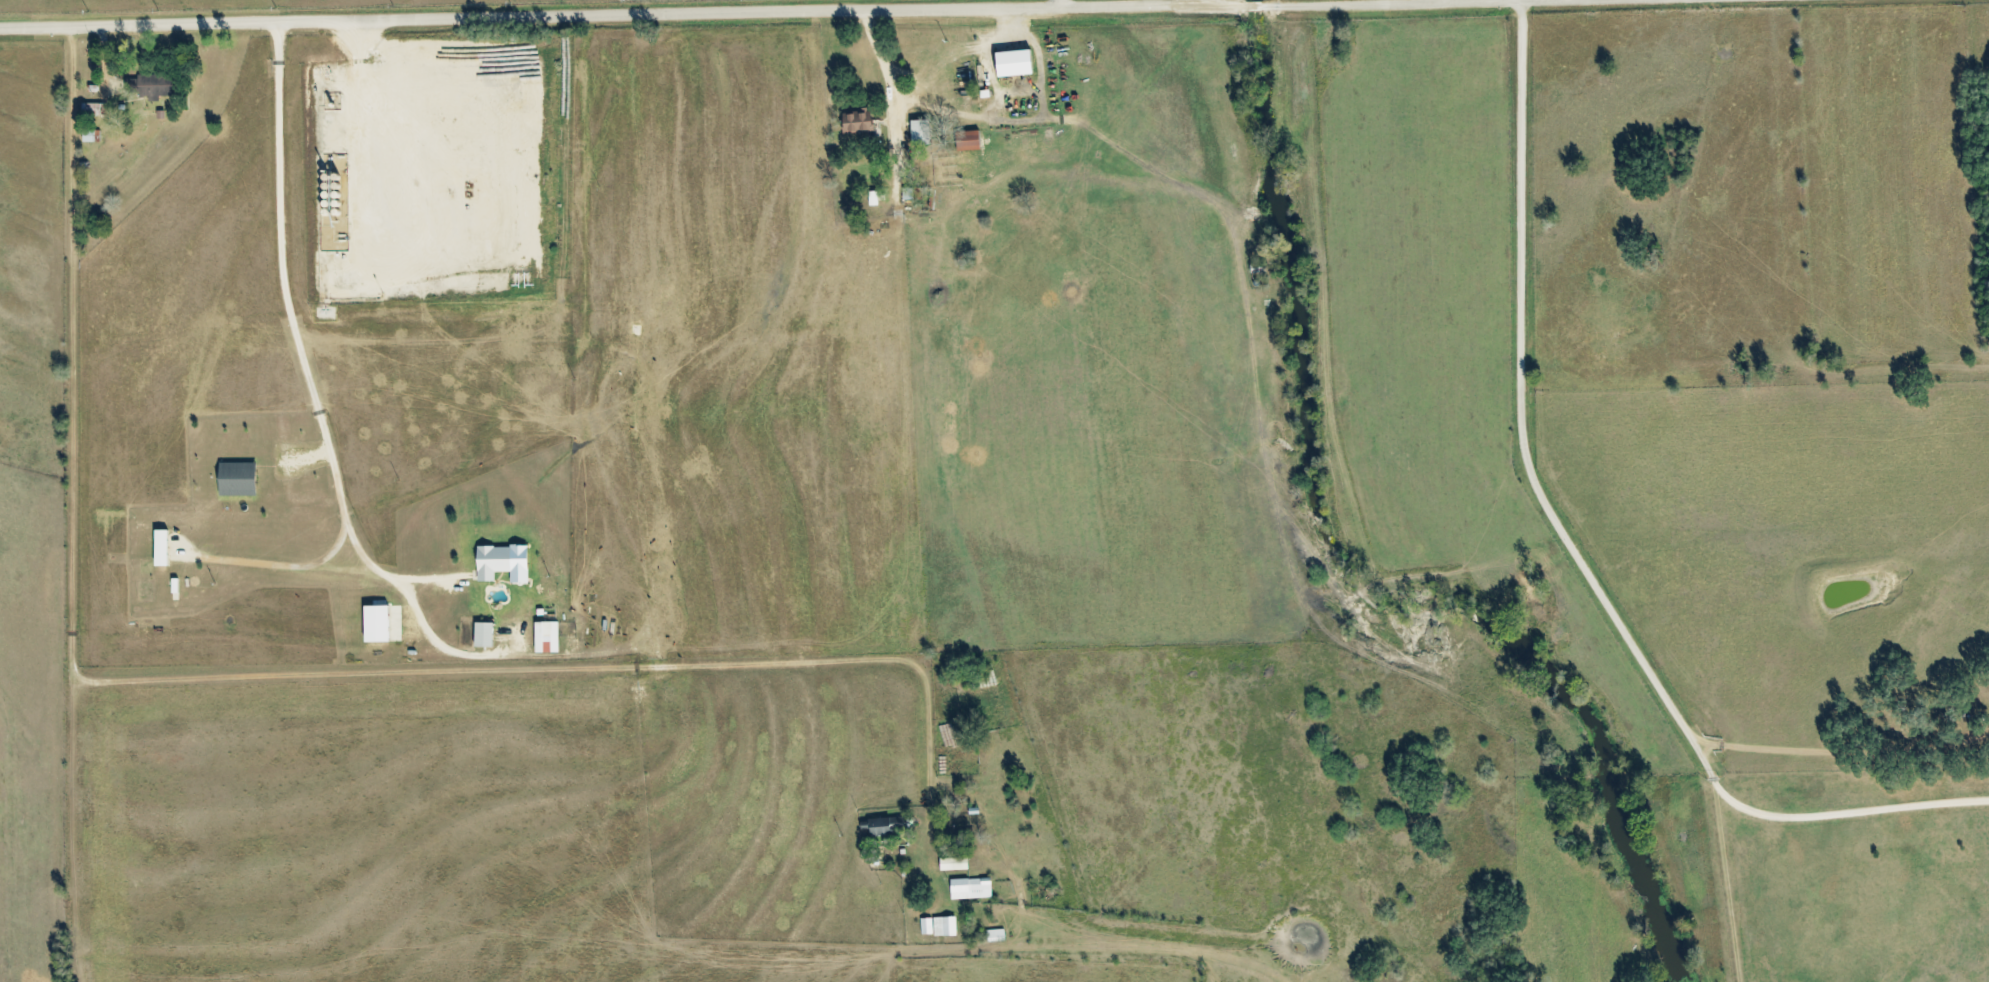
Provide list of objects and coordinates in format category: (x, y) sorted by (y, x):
road: (1065, 2)
road: (714, 10)
building: (1015, 62)
building: (151, 84)
building: (94, 109)
building: (858, 122)
building: (920, 131)
road: (400, 133)
building: (968, 140)
building: (907, 193)
road: (297, 342)
building: (237, 479)
road: (1556, 512)
building: (161, 547)
building: (503, 562)
building: (377, 623)
building: (484, 634)
building: (546, 637)
road: (191, 674)
building: (888, 824)
building: (953, 863)
building: (970, 888)
building: (926, 926)
building: (944, 926)

